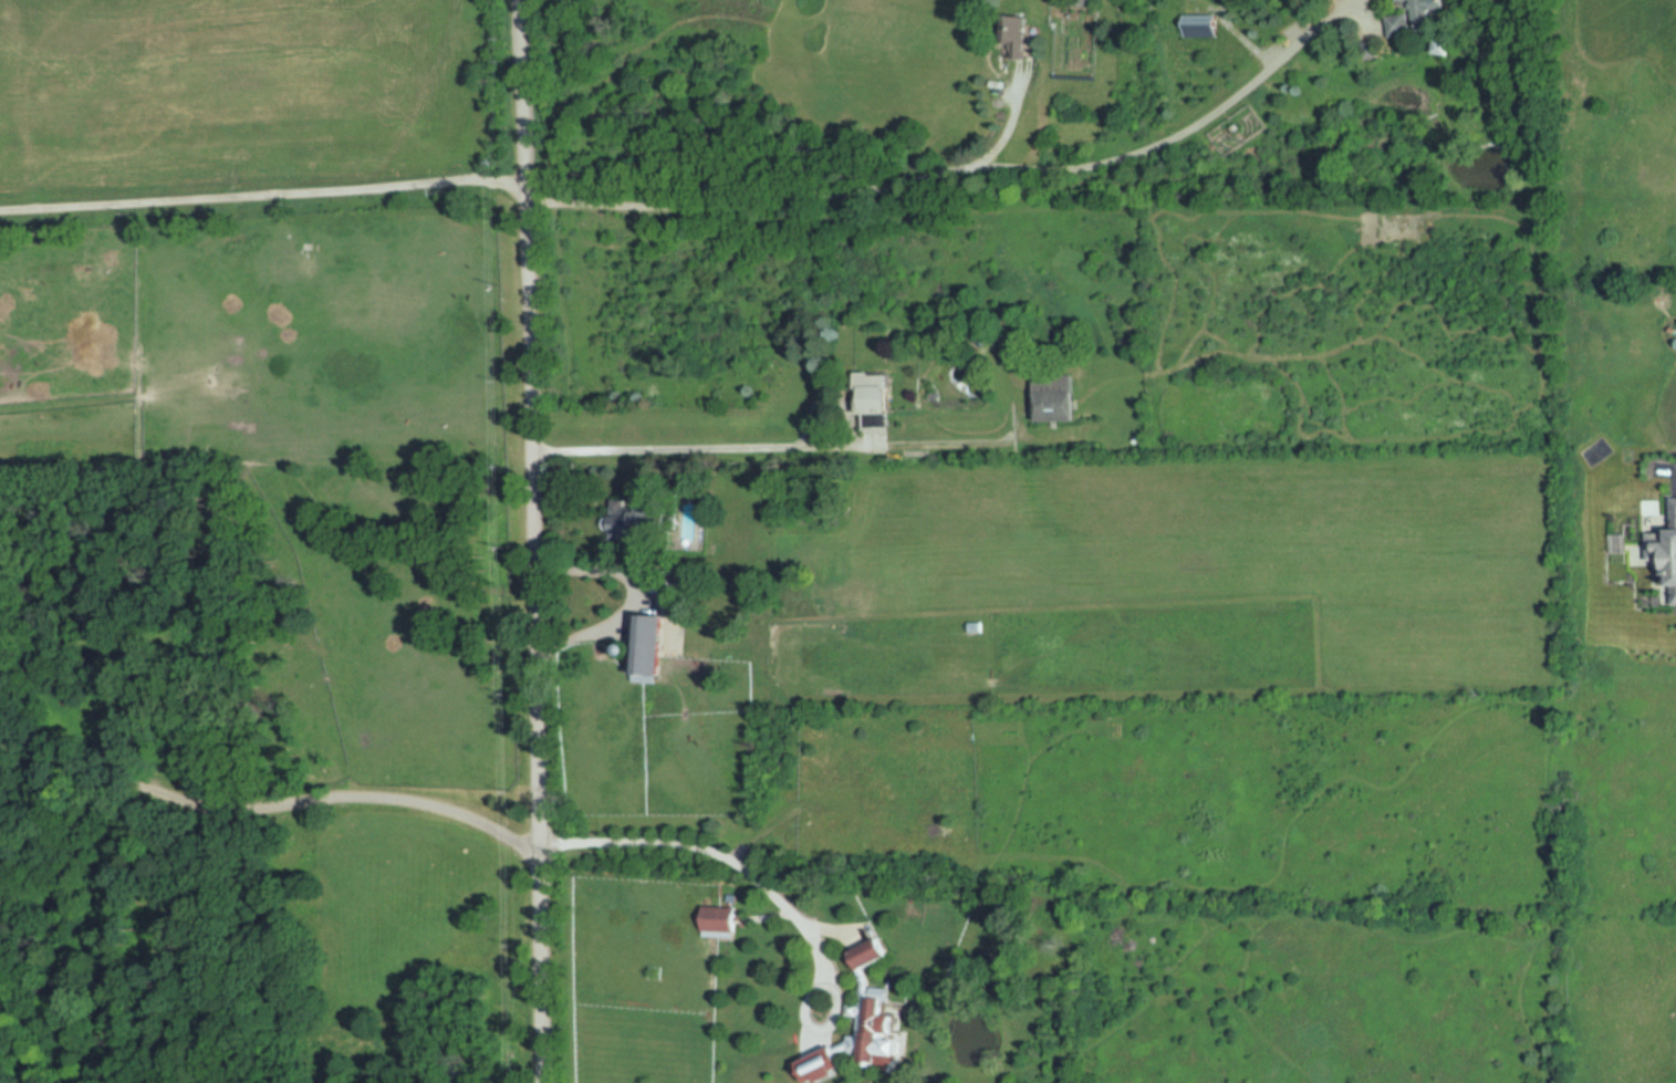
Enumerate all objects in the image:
building: (1412, 18)
building: (1203, 25)
building: (1013, 42)
road: (1007, 124)
road: (949, 174)
road: (262, 195)
building: (1055, 397)
building: (878, 410)
road: (746, 448)
road: (1672, 470)
building: (632, 518)
road: (533, 541)
building: (1665, 554)
road: (629, 597)
building: (648, 648)
road: (271, 802)
road: (711, 853)
building: (871, 1001)

